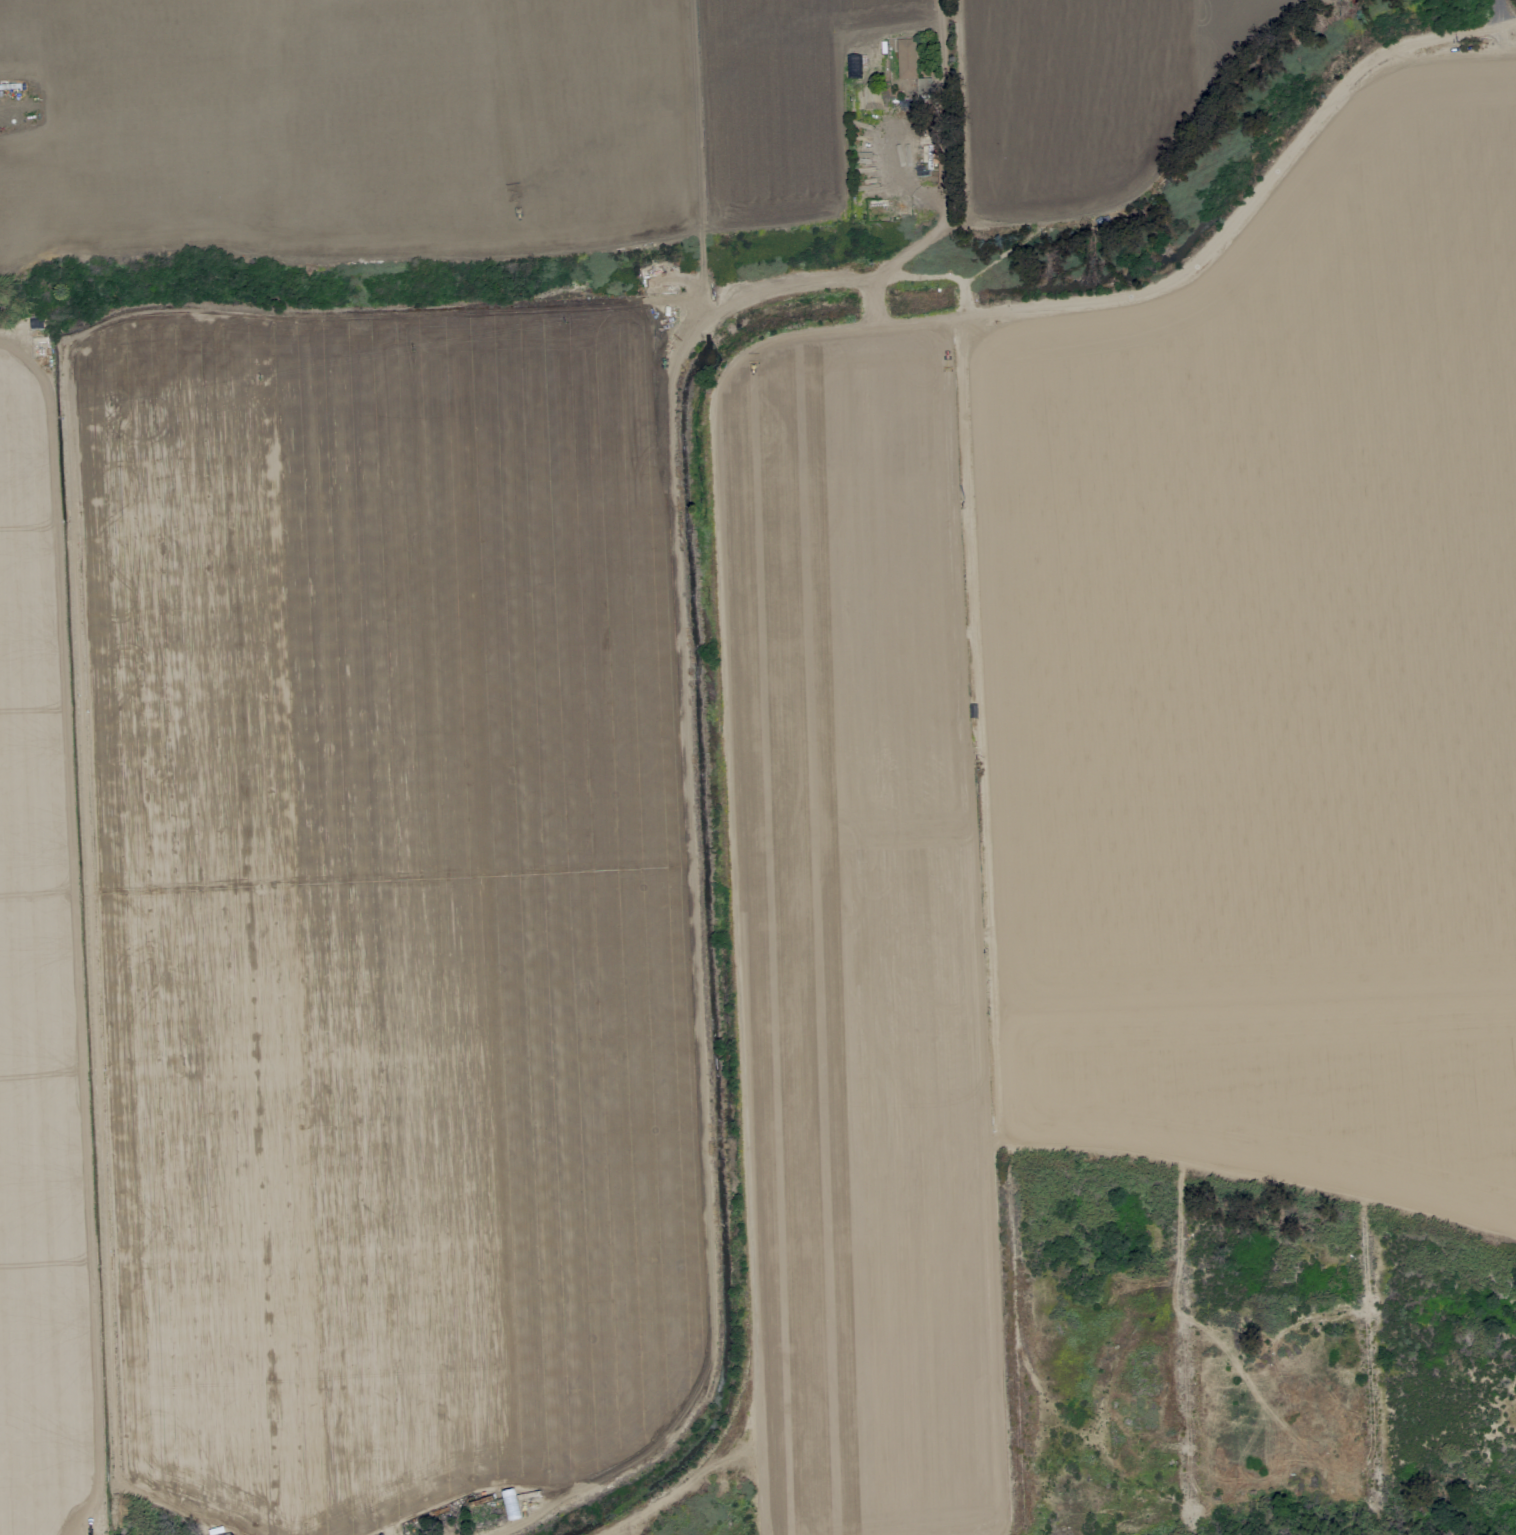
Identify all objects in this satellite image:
road: (936, 12)
road: (1498, 14)
building: (906, 58)
road: (1197, 272)
crop: (743, 750)

